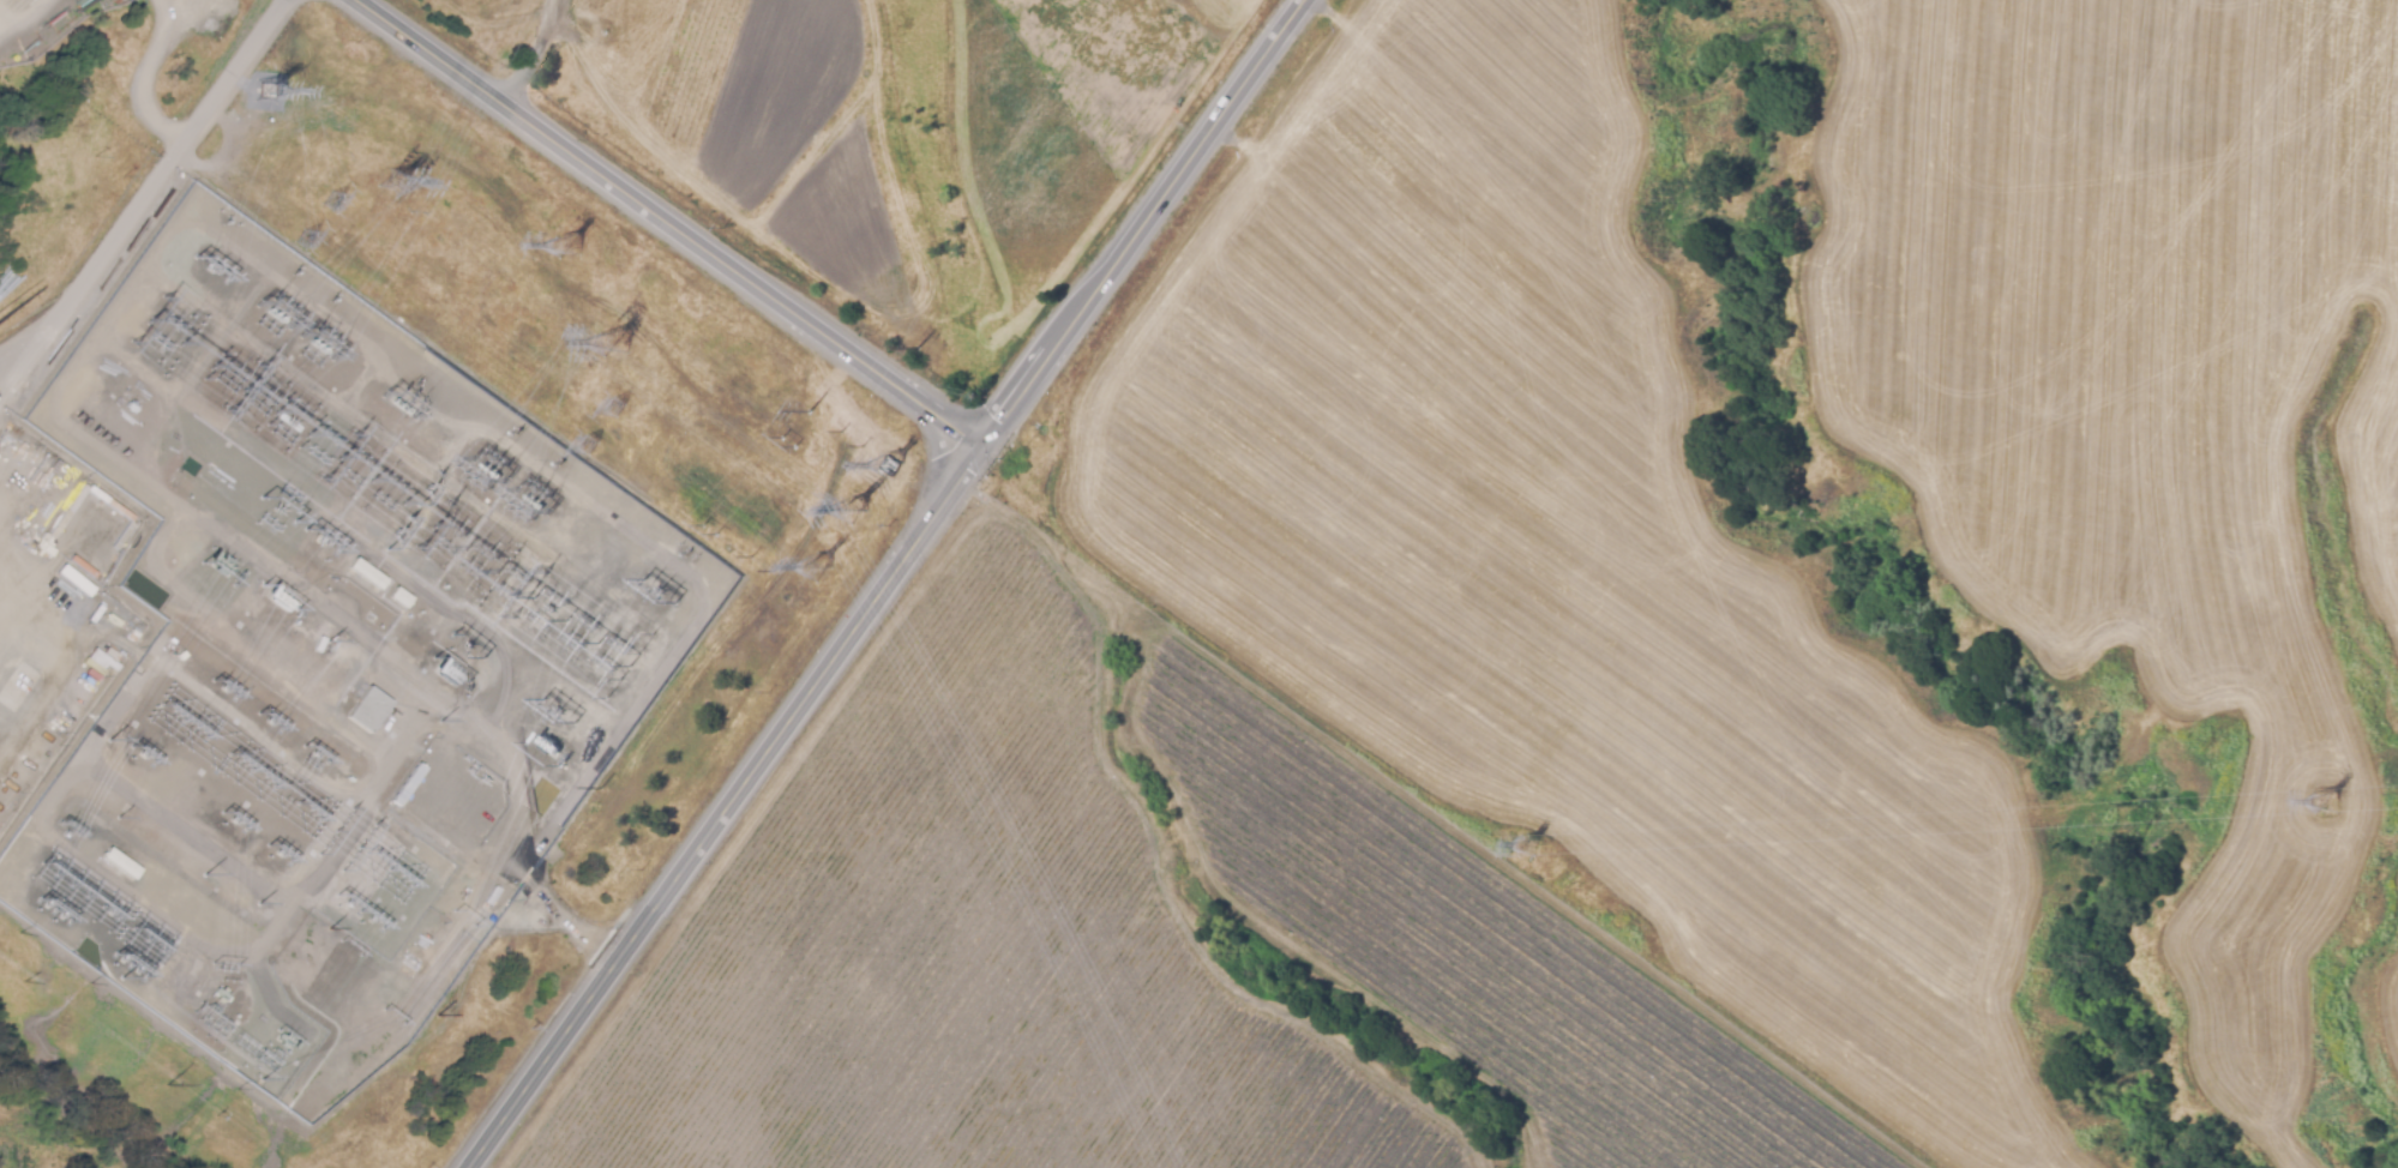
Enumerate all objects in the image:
road: (17, 13)
road: (530, 53)
road: (148, 80)
power tower: (264, 92)
power tower: (389, 183)
road: (152, 194)
power tower: (331, 200)
road: (665, 222)
road: (1134, 223)
power tower: (302, 240)
power tower: (567, 243)
power tower: (613, 344)
road: (6, 386)
power tower: (617, 410)
power tower: (587, 446)
power tower: (893, 468)
building: (106, 500)
building: (67, 511)
power tower: (852, 512)
power tower: (708, 531)
power tower: (816, 570)
building: (365, 573)
building: (398, 597)
building: (79, 598)
building: (100, 618)
power substation: (329, 661)
building: (366, 708)
building: (43, 754)
building: (26, 771)
building: (405, 783)
building: (7, 799)
power tower: (2326, 805)
road: (723, 808)
power tower: (1531, 849)
building: (119, 863)
building: (483, 893)
building: (222, 994)
building: (173, 1012)

